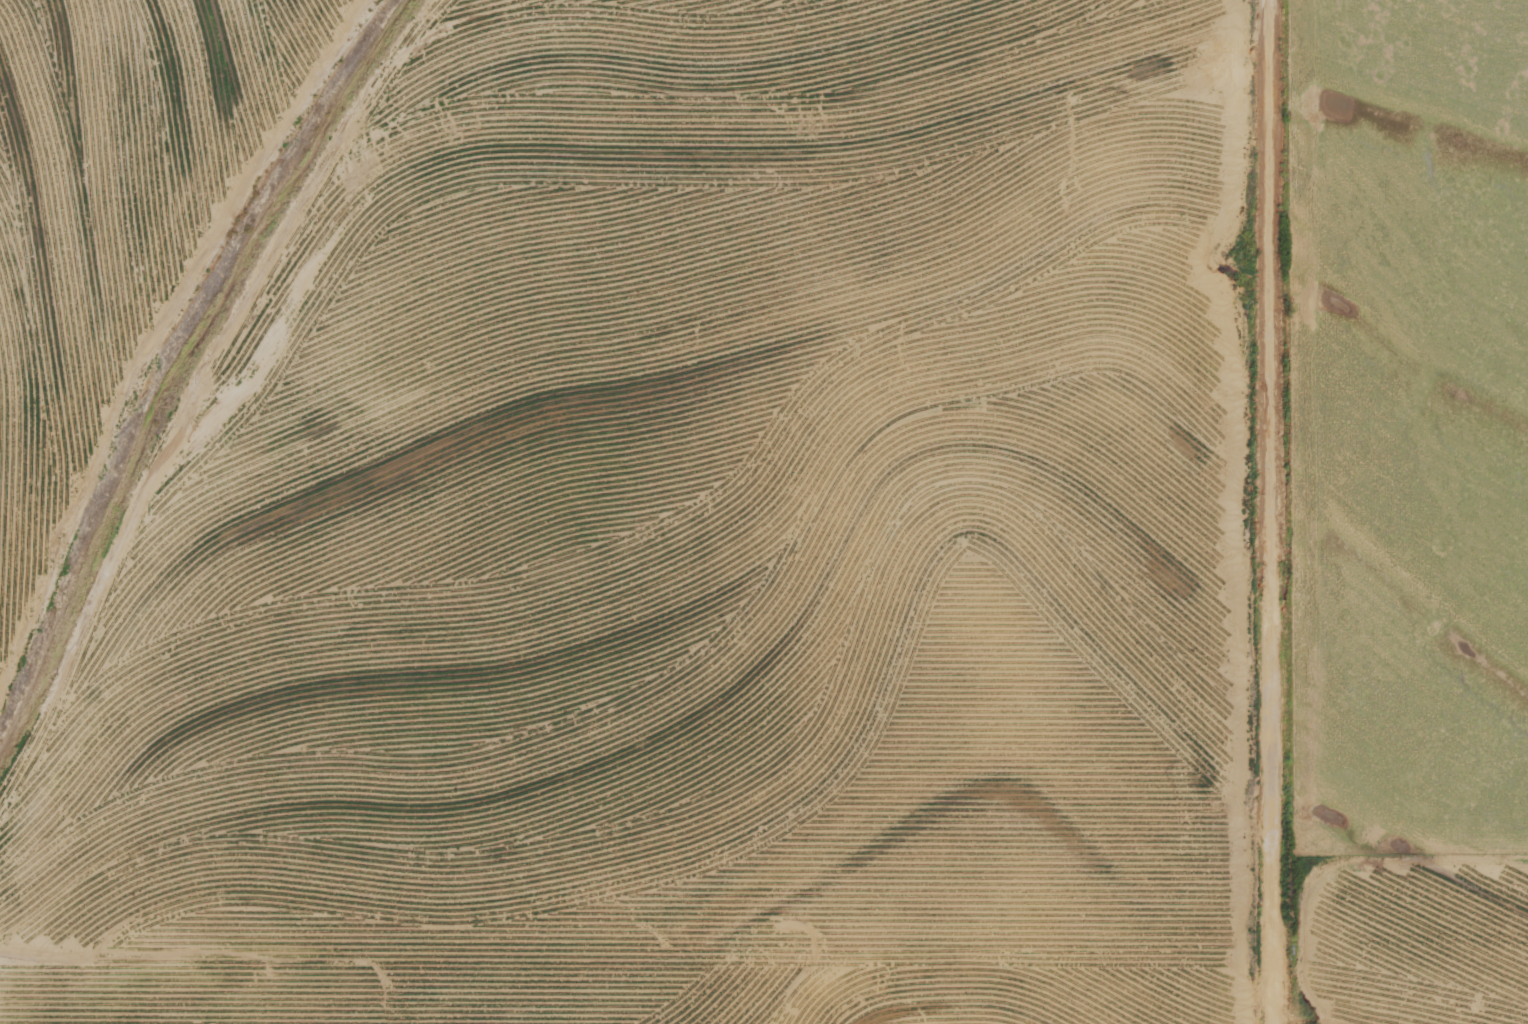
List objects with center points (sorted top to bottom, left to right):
road: (1274, 512)

